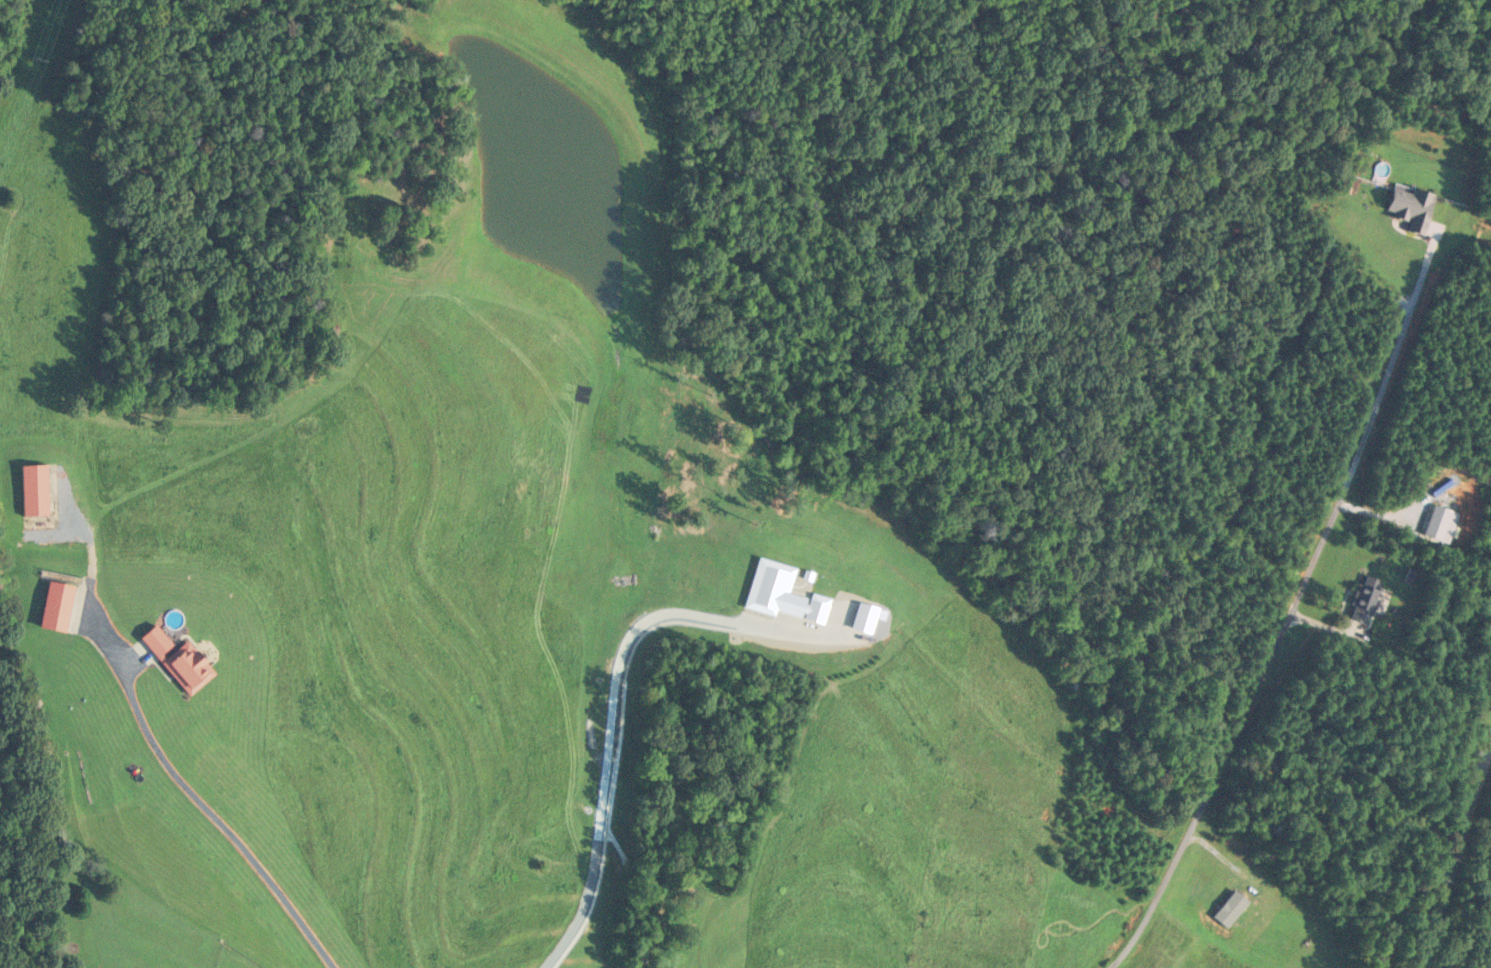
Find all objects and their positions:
building: (31, 490)
building: (1362, 599)
building: (53, 606)
road: (1284, 628)
building: (175, 661)
road: (610, 728)
road: (213, 815)
road: (1453, 851)

